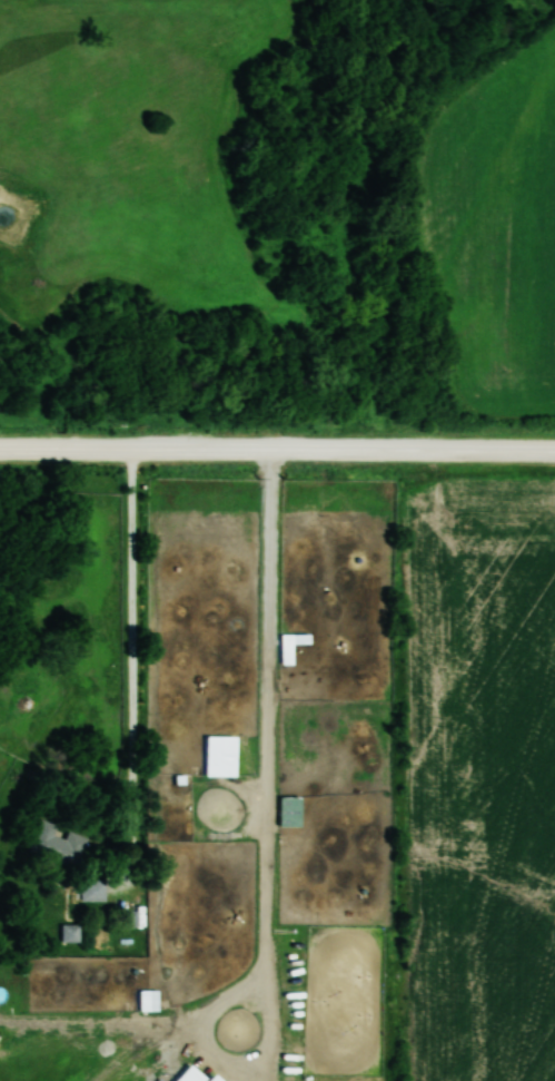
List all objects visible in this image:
road: (277, 450)
road: (132, 672)
road: (265, 841)
building: (54, 847)
building: (92, 890)

